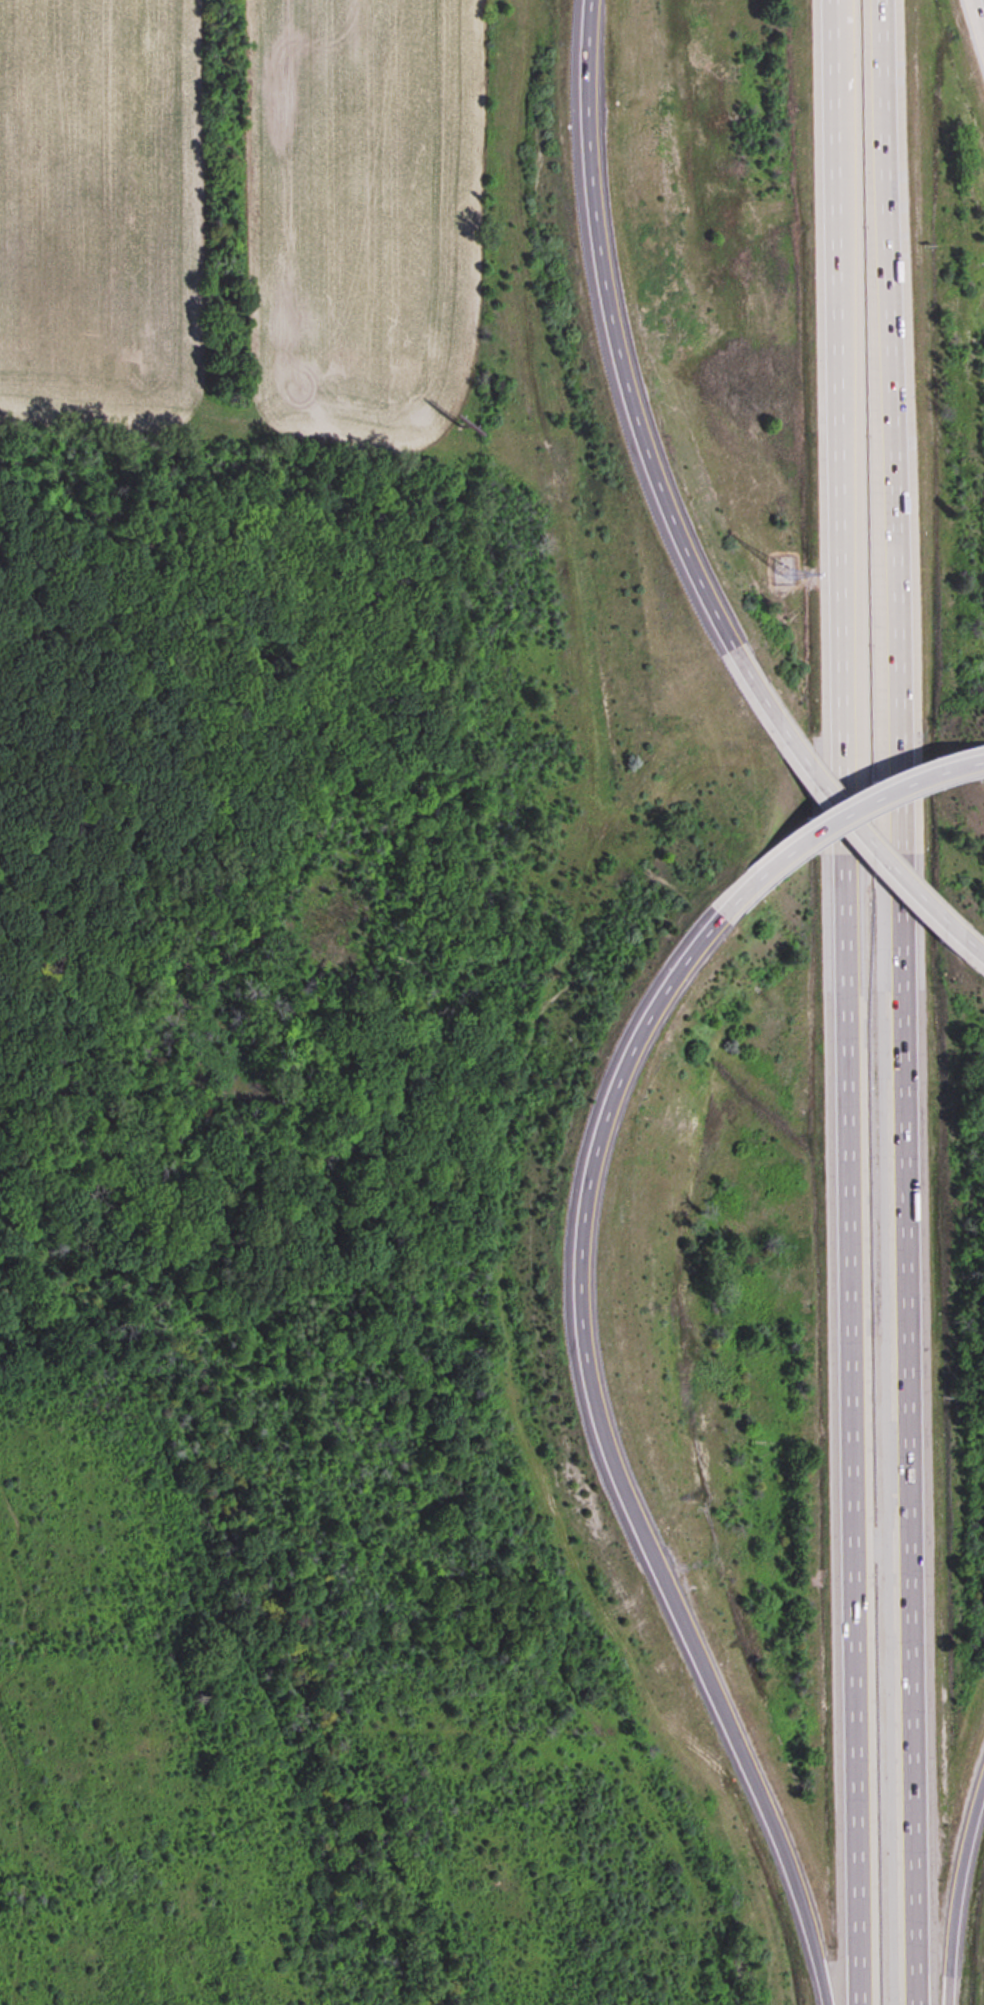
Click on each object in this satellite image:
road: (977, 19)
road: (837, 173)
road: (612, 355)
road: (983, 756)
road: (850, 804)
road: (855, 831)
road: (903, 1002)
road: (603, 1076)
road: (848, 1176)
road: (593, 1428)
road: (749, 1767)
road: (957, 1888)

